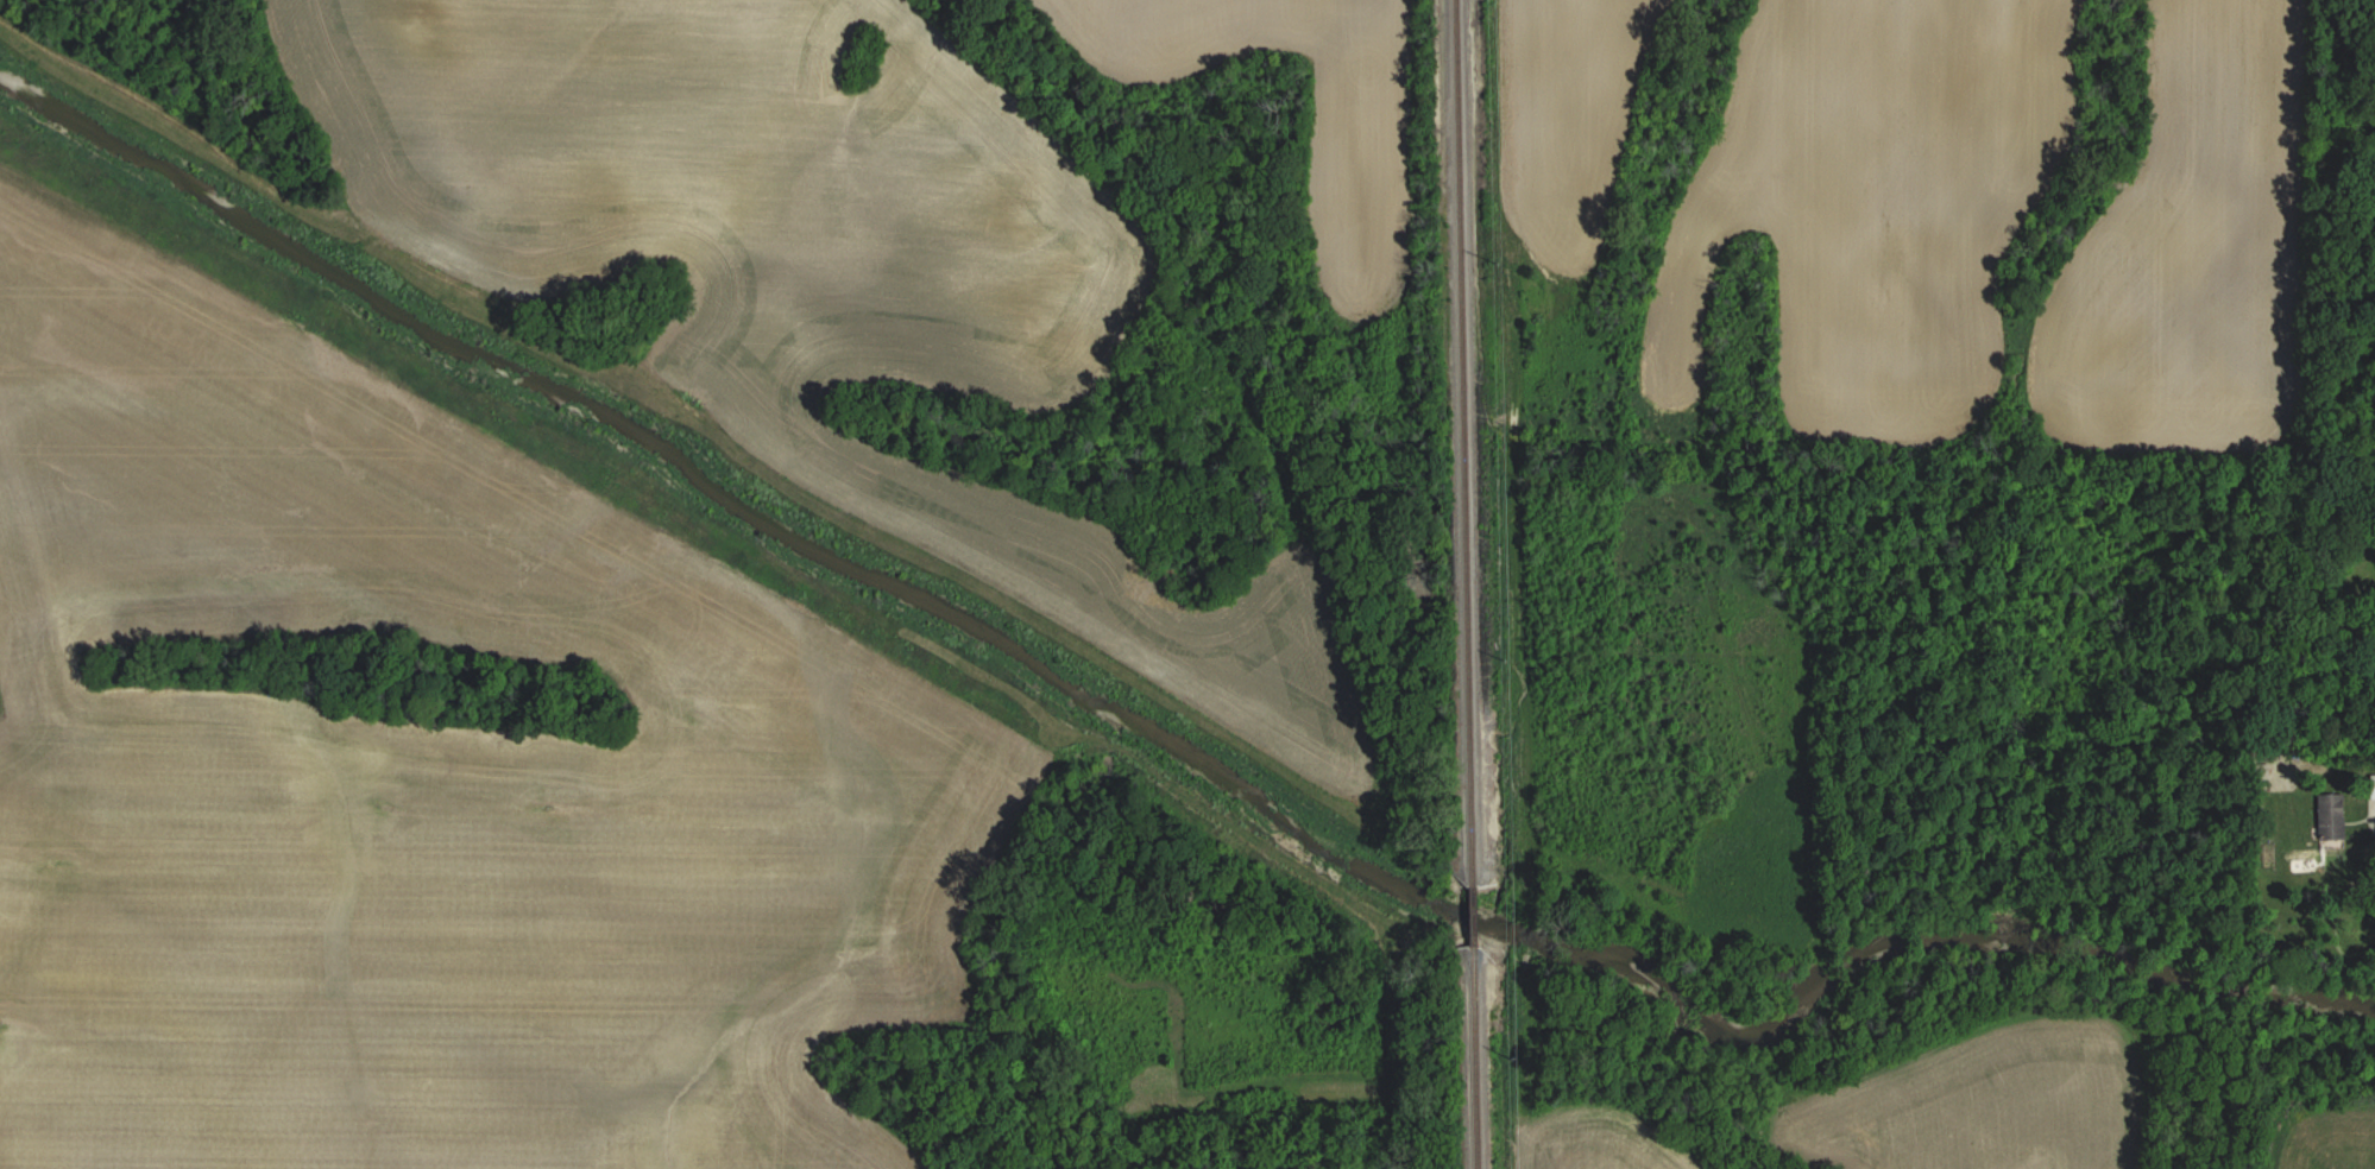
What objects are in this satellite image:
railway: (1468, 442)
building: (2374, 783)
railway: (1479, 915)
railway: (1481, 1057)

